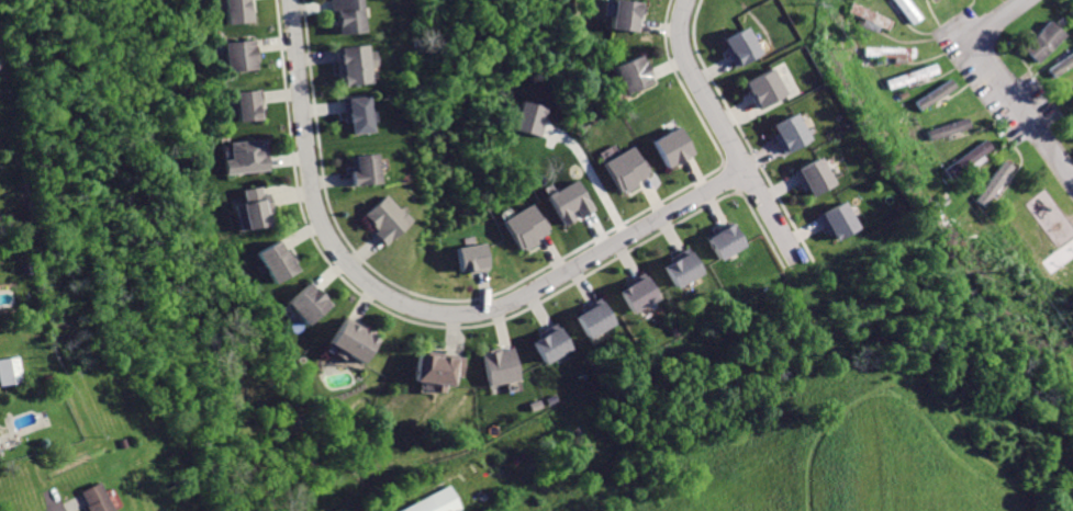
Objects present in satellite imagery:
building: (905, 10)
building: (236, 11)
building: (624, 14)
building: (871, 15)
building: (347, 16)
road: (996, 20)
building: (1041, 42)
building: (740, 46)
building: (890, 53)
building: (237, 56)
building: (355, 64)
building: (1060, 64)
building: (630, 73)
building: (912, 76)
building: (765, 88)
building: (935, 95)
building: (1071, 95)
building: (249, 106)
road: (1021, 109)
building: (356, 114)
building: (530, 118)
building: (949, 128)
road: (726, 130)
building: (790, 133)
building: (671, 146)
building: (247, 156)
building: (969, 158)
building: (625, 170)
building: (362, 171)
building: (813, 175)
road: (594, 177)
building: (992, 188)
building: (571, 201)
building: (254, 209)
building: (837, 220)
building: (382, 222)
building: (526, 227)
building: (723, 241)
building: (470, 258)
building: (275, 263)
building: (681, 270)
building: (639, 291)
building: (304, 305)
road: (420, 310)
building: (595, 317)
building: (552, 342)
building: (347, 343)
building: (499, 365)
building: (435, 370)
building: (9, 372)
building: (94, 499)
building: (434, 502)
road: (70, 506)

